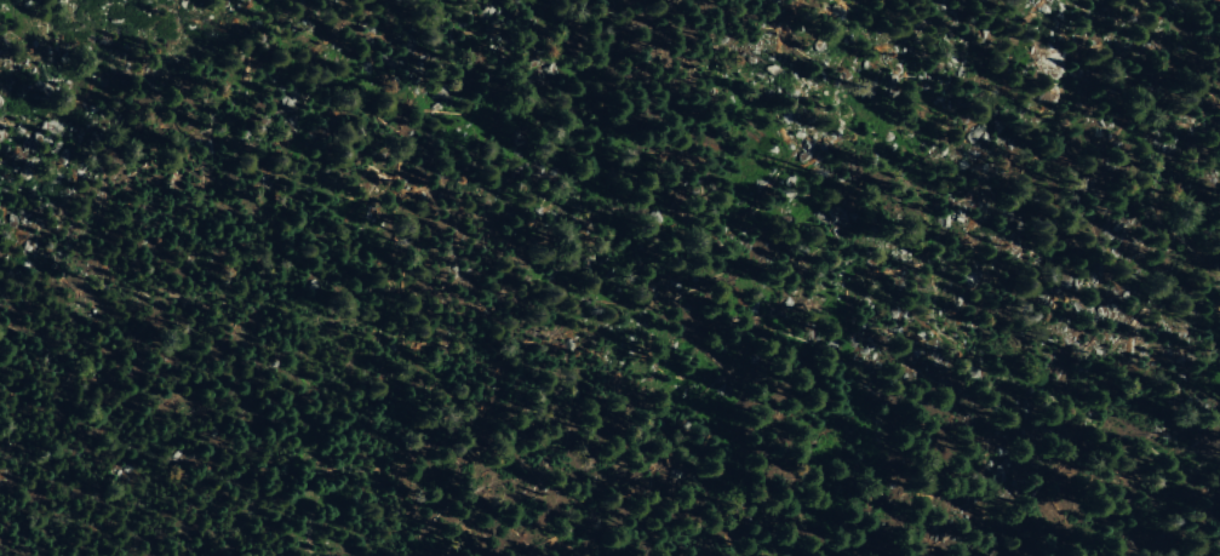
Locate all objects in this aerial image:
road: (418, 306)

